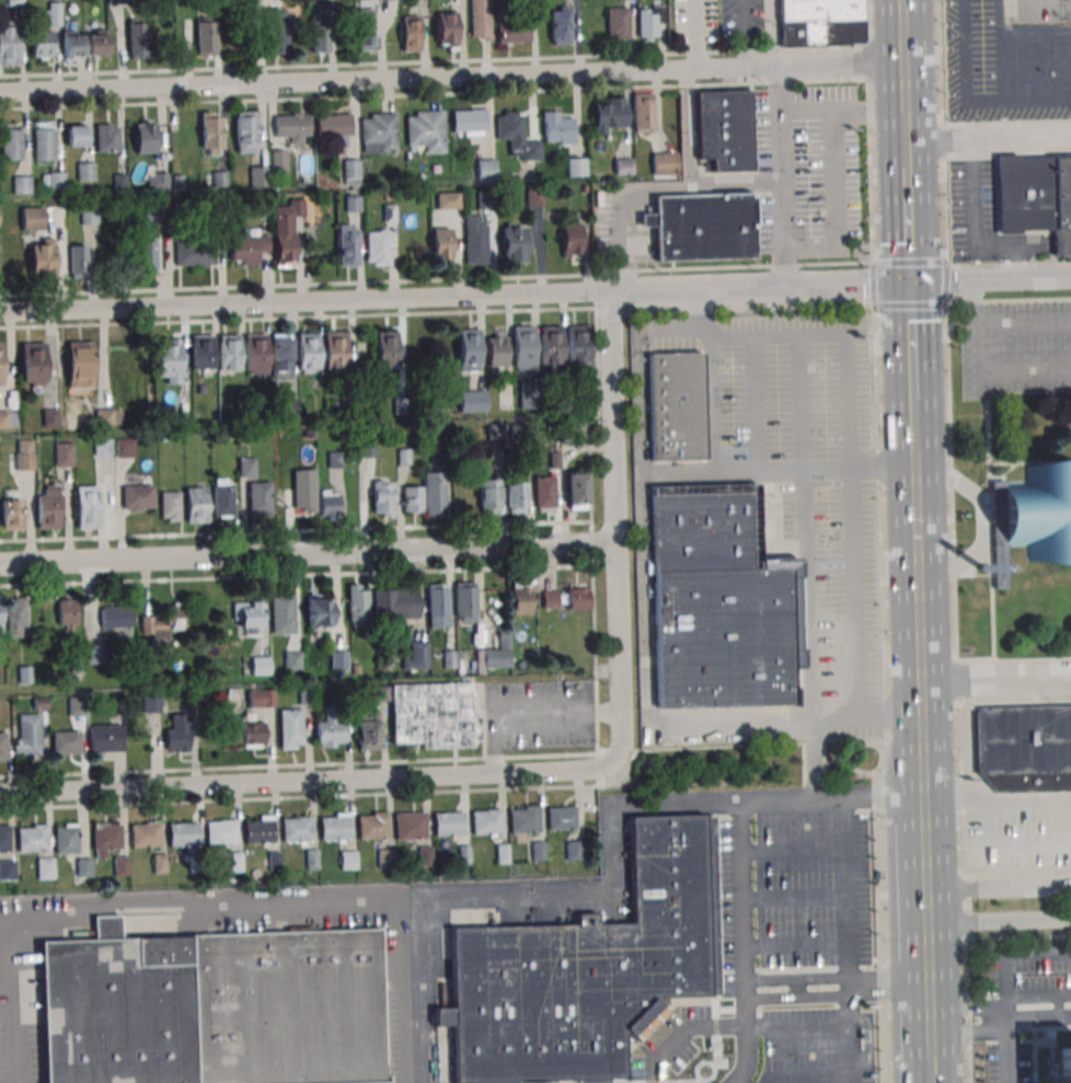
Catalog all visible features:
building: (117, 1)
building: (14, 2)
road: (1010, 10)
building: (51, 13)
building: (480, 18)
building: (649, 20)
building: (618, 23)
building: (820, 23)
building: (560, 25)
building: (448, 28)
building: (511, 28)
building: (364, 30)
building: (276, 31)
road: (772, 32)
building: (319, 33)
building: (410, 33)
road: (744, 33)
building: (136, 37)
building: (205, 38)
building: (8, 42)
building: (41, 43)
building: (93, 43)
building: (69, 44)
road: (902, 57)
road: (434, 61)
road: (451, 73)
road: (435, 93)
building: (642, 111)
road: (842, 111)
building: (609, 114)
building: (469, 119)
road: (1005, 123)
building: (291, 126)
building: (558, 127)
building: (724, 127)
building: (334, 128)
building: (425, 129)
road: (870, 130)
road: (940, 130)
building: (244, 131)
building: (210, 134)
building: (379, 134)
building: (74, 135)
building: (516, 135)
building: (145, 136)
road: (988, 137)
building: (105, 138)
road: (906, 141)
building: (11, 145)
building: (44, 145)
road: (1005, 153)
building: (278, 160)
building: (664, 162)
building: (623, 165)
building: (576, 166)
building: (486, 169)
building: (85, 171)
building: (350, 171)
road: (686, 175)
building: (258, 176)
road: (781, 176)
building: (219, 178)
building: (53, 180)
building: (157, 181)
building: (118, 182)
building: (176, 182)
building: (21, 184)
building: (583, 188)
building: (1036, 196)
building: (534, 197)
building: (486, 199)
building: (448, 200)
building: (353, 203)
road: (834, 205)
building: (177, 207)
road: (622, 209)
building: (151, 212)
building: (389, 214)
building: (88, 215)
building: (31, 218)
building: (701, 226)
road: (908, 226)
road: (971, 228)
building: (285, 232)
building: (571, 239)
building: (474, 240)
building: (441, 242)
building: (513, 244)
building: (249, 245)
building: (346, 245)
building: (377, 249)
building: (194, 251)
building: (145, 256)
building: (42, 261)
building: (77, 262)
road: (910, 262)
road: (1007, 267)
road: (437, 279)
road: (946, 280)
road: (874, 285)
road: (534, 295)
road: (1009, 299)
road: (910, 307)
road: (749, 310)
road: (610, 311)
road: (297, 316)
building: (576, 343)
road: (911, 343)
building: (522, 346)
building: (551, 346)
parking lot: (1016, 347)
building: (384, 348)
building: (495, 348)
building: (468, 349)
building: (201, 352)
building: (228, 352)
building: (307, 352)
building: (334, 352)
building: (255, 353)
building: (280, 356)
building: (168, 359)
building: (32, 362)
building: (78, 362)
building: (0, 371)
building: (529, 396)
building: (472, 400)
road: (802, 402)
road: (755, 403)
building: (399, 405)
building: (675, 405)
building: (288, 406)
building: (341, 408)
building: (107, 416)
building: (315, 416)
building: (49, 417)
building: (3, 419)
building: (431, 425)
road: (913, 426)
building: (521, 430)
building: (572, 430)
building: (495, 431)
building: (163, 438)
building: (103, 447)
building: (126, 447)
building: (367, 448)
building: (23, 453)
building: (64, 453)
building: (403, 457)
building: (335, 459)
building: (554, 460)
road: (1026, 461)
building: (247, 466)
road: (820, 470)
building: (304, 489)
building: (576, 489)
road: (949, 492)
building: (544, 493)
building: (434, 494)
building: (488, 495)
building: (516, 496)
building: (137, 497)
building: (383, 498)
building: (258, 499)
building: (413, 499)
building: (222, 500)
building: (170, 505)
building: (196, 505)
building: (329, 505)
building: (87, 507)
building: (48, 508)
building: (1039, 510)
building: (11, 514)
road: (980, 523)
road: (613, 526)
road: (591, 529)
road: (989, 530)
road: (295, 531)
road: (307, 552)
road: (854, 562)
road: (296, 575)
road: (915, 576)
road: (808, 595)
building: (520, 597)
building: (576, 598)
building: (550, 599)
building: (464, 601)
building: (358, 604)
building: (395, 604)
building: (437, 606)
building: (715, 606)
building: (67, 611)
building: (320, 612)
building: (283, 614)
building: (15, 615)
building: (115, 617)
building: (252, 618)
building: (1, 619)
building: (163, 625)
building: (495, 653)
building: (95, 654)
building: (415, 655)
road: (1012, 658)
building: (338, 659)
building: (448, 659)
building: (292, 660)
building: (77, 665)
building: (255, 665)
building: (355, 669)
building: (23, 673)
road: (993, 681)
road: (647, 682)
building: (380, 693)
building: (204, 694)
road: (884, 694)
building: (306, 695)
building: (261, 698)
building: (116, 699)
building: (191, 699)
road: (1014, 699)
building: (39, 703)
building: (151, 703)
building: (77, 706)
road: (603, 712)
building: (433, 714)
road: (529, 715)
parking lot: (539, 715)
road: (825, 718)
building: (289, 728)
building: (330, 728)
building: (367, 731)
building: (178, 733)
building: (243, 734)
building: (27, 735)
building: (105, 738)
building: (66, 741)
building: (3, 746)
building: (1024, 747)
road: (615, 750)
road: (495, 760)
road: (920, 761)
road: (298, 765)
road: (598, 770)
road: (620, 771)
road: (307, 780)
road: (299, 796)
building: (561, 817)
building: (523, 819)
building: (486, 821)
building: (448, 823)
building: (372, 826)
building: (410, 826)
building: (335, 827)
building: (260, 829)
building: (298, 829)
building: (221, 832)
building: (183, 833)
building: (146, 834)
building: (32, 837)
building: (4, 838)
building: (66, 839)
building: (105, 839)
road: (792, 848)
building: (574, 850)
building: (538, 851)
building: (502, 853)
building: (463, 854)
building: (425, 855)
building: (384, 857)
building: (312, 859)
building: (348, 859)
building: (274, 860)
building: (234, 861)
building: (159, 863)
building: (196, 864)
building: (122, 865)
building: (46, 867)
building: (83, 867)
building: (8, 869)
road: (1016, 869)
road: (967, 882)
road: (612, 887)
road: (997, 887)
road: (741, 896)
road: (793, 897)
road: (205, 899)
road: (923, 915)
road: (997, 920)
building: (107, 928)
road: (1018, 937)
road: (844, 941)
road: (794, 943)
building: (164, 950)
building: (585, 970)
road: (783, 988)
road: (1036, 996)
building: (287, 1006)
building: (115, 1015)
building: (442, 1016)
road: (964, 1019)
road: (673, 1024)
road: (795, 1032)
road: (925, 1034)
road: (1004, 1040)
road: (694, 1052)
building: (1063, 1064)
road: (926, 1071)
road: (808, 1081)

